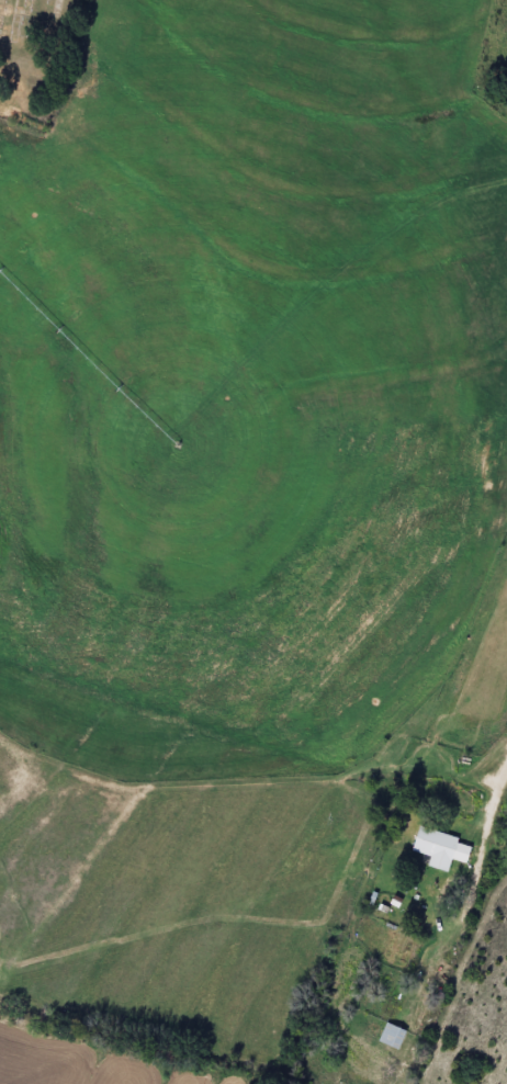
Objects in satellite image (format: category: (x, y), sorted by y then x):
park: (35, 55)
building: (441, 848)
building: (393, 1036)

